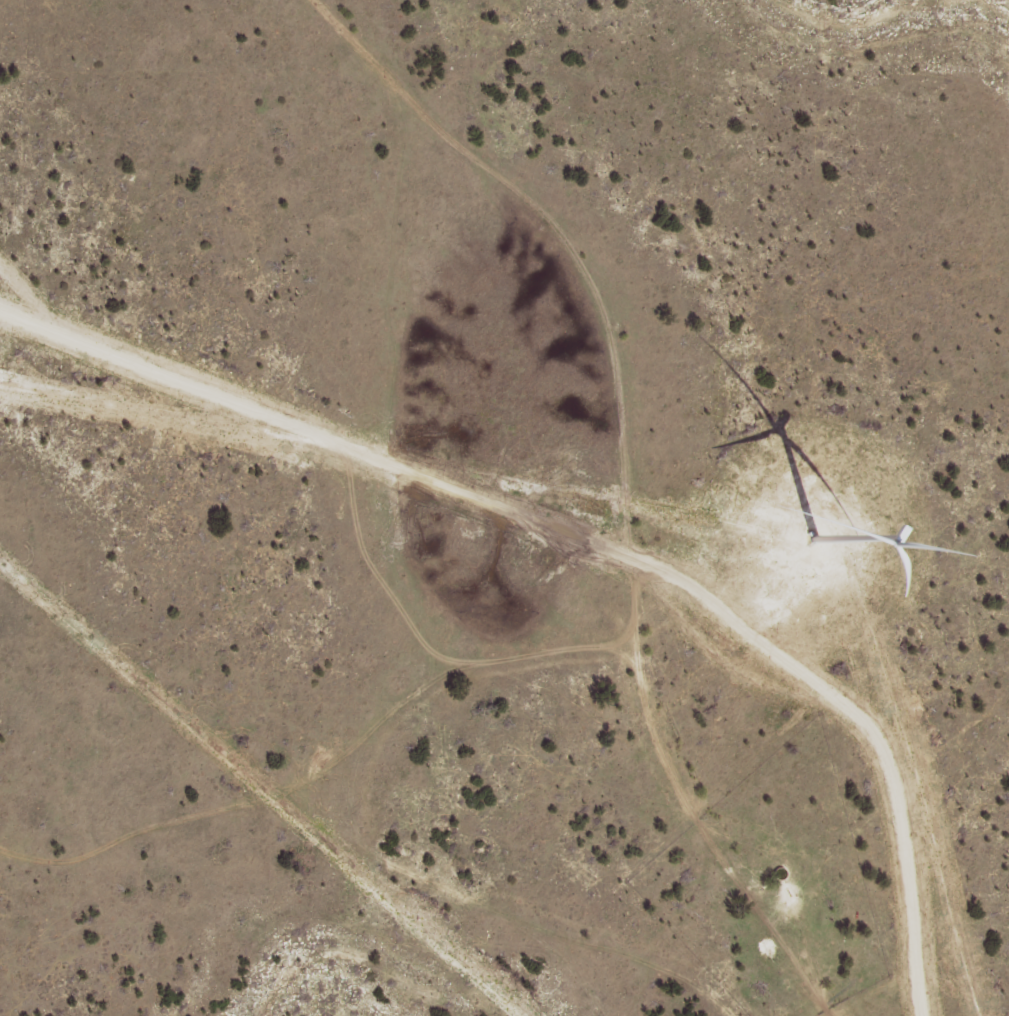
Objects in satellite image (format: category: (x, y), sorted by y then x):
road: (669, 468)
wind turbine: (799, 520)
road: (389, 875)

